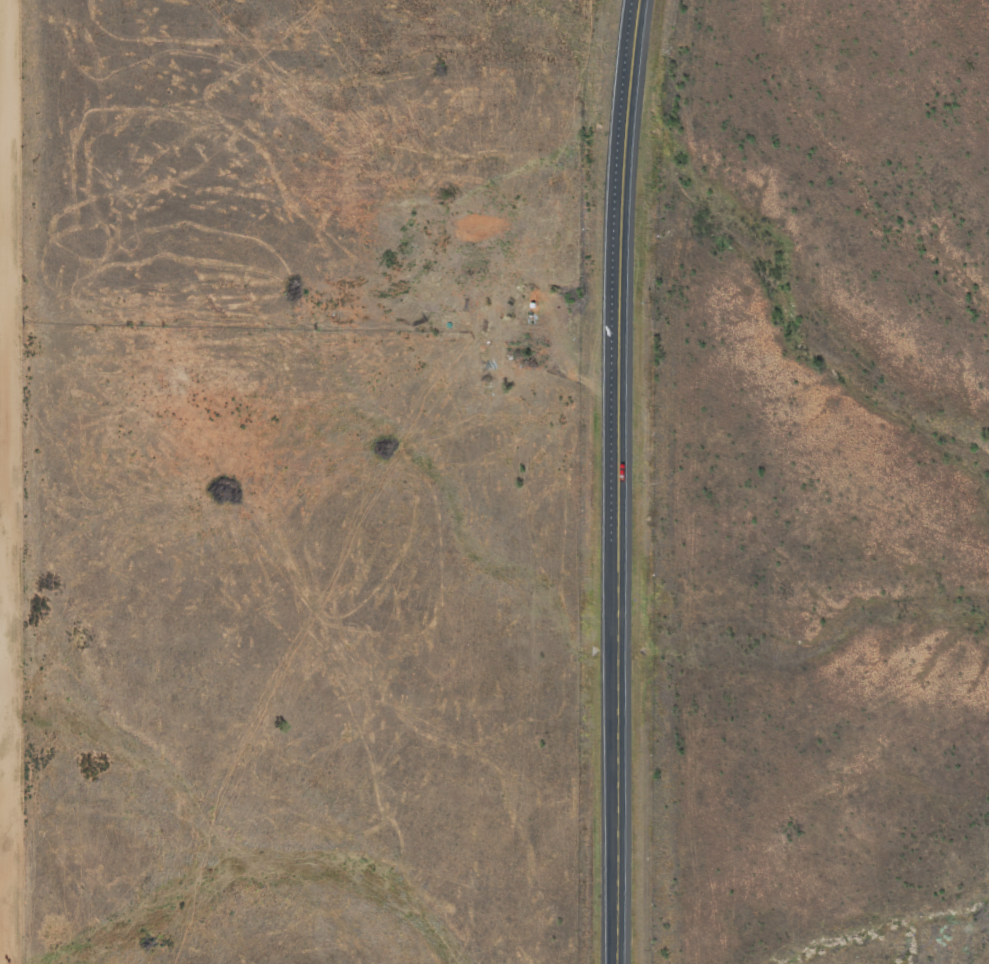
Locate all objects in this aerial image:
road: (691, 118)
road: (619, 480)

